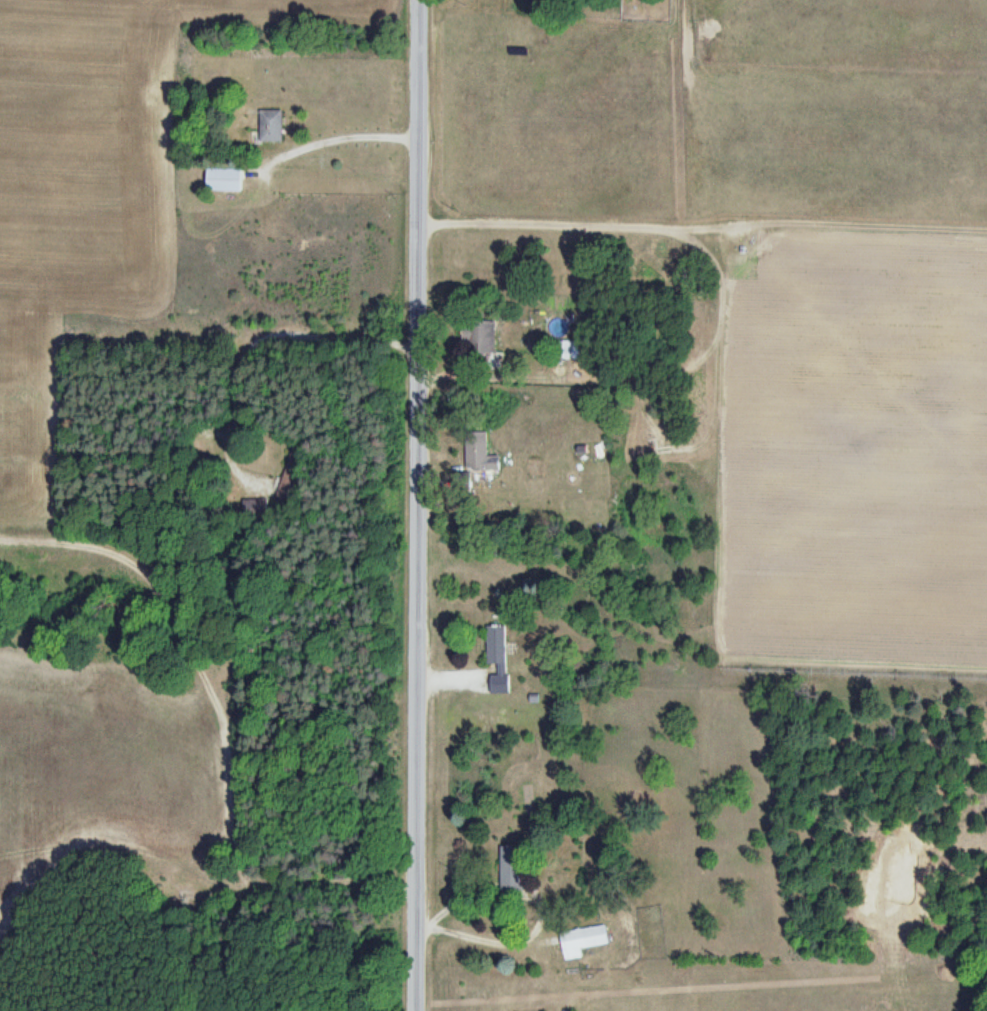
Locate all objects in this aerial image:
building: (271, 125)
building: (225, 179)
building: (484, 340)
building: (570, 348)
road: (263, 389)
building: (478, 451)
building: (287, 475)
road: (403, 505)
building: (497, 645)
building: (501, 683)
road: (172, 822)
building: (511, 866)
building: (594, 935)

